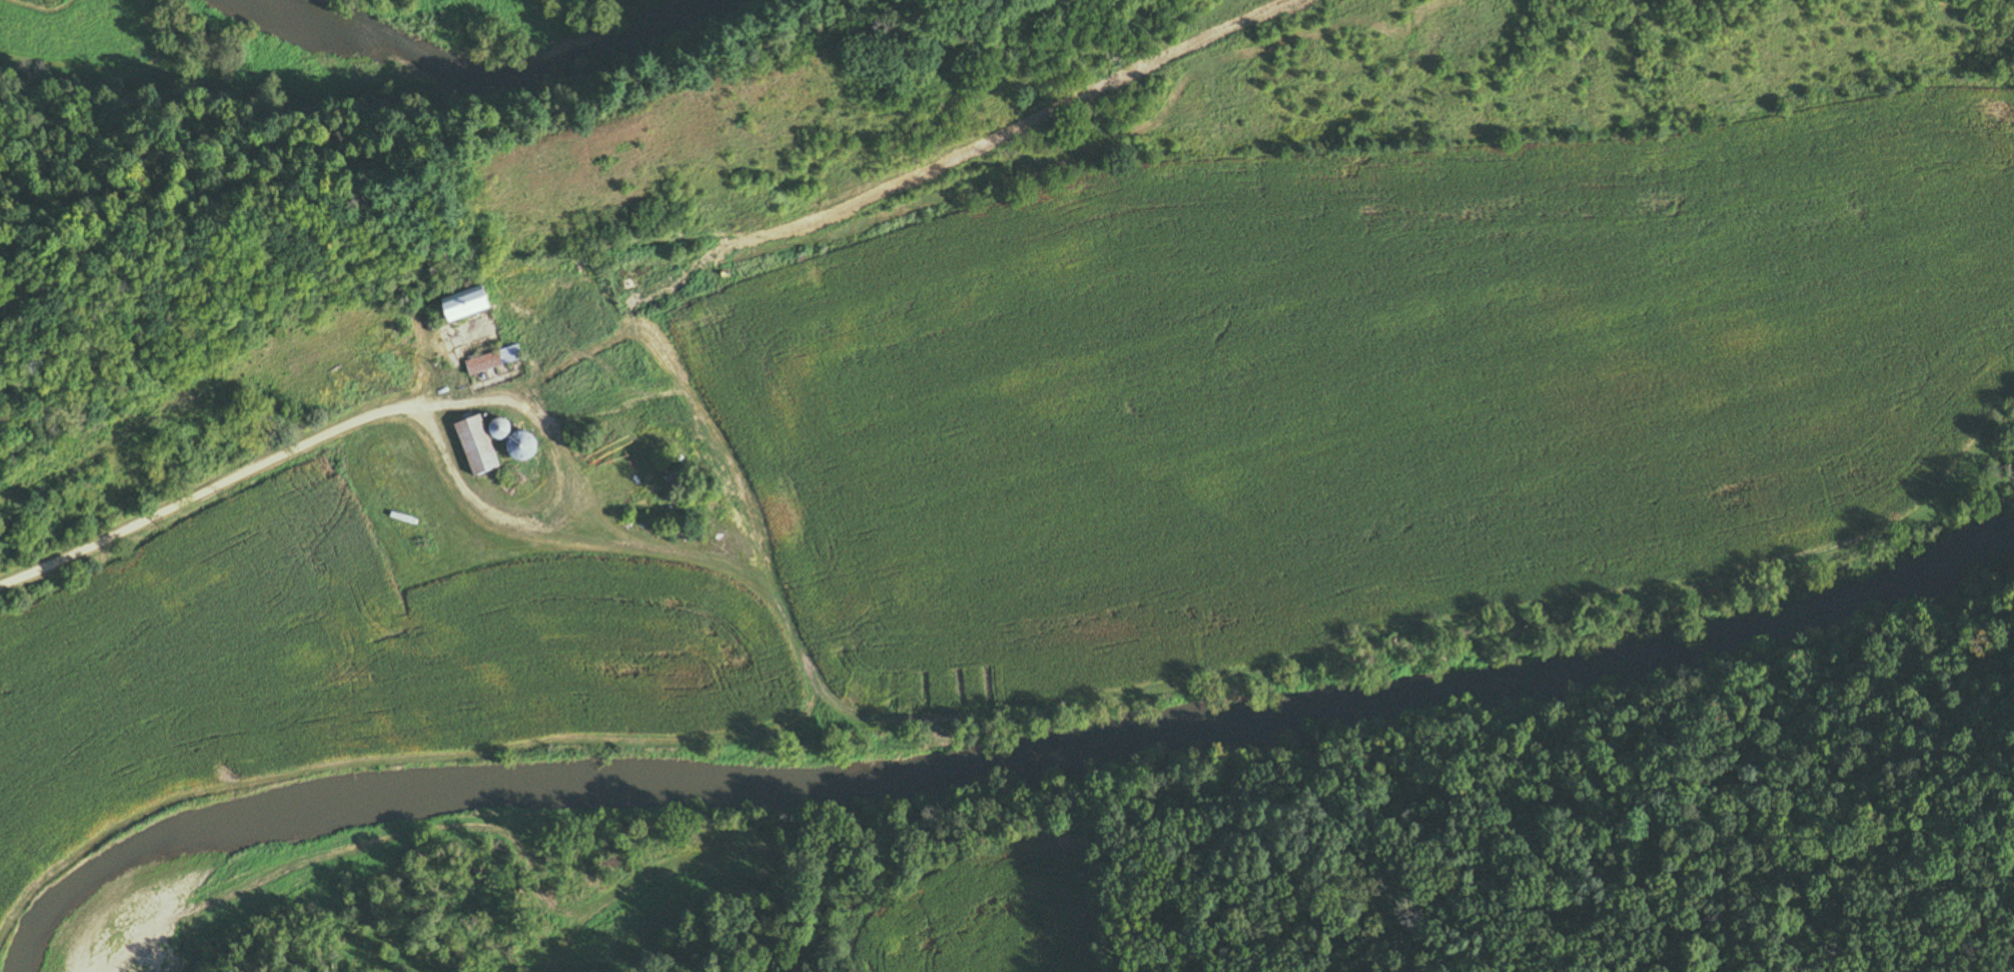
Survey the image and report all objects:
river: (511, 94)
building: (479, 302)
building: (496, 359)
building: (482, 445)
road: (204, 493)
road: (557, 496)
river: (1056, 750)

